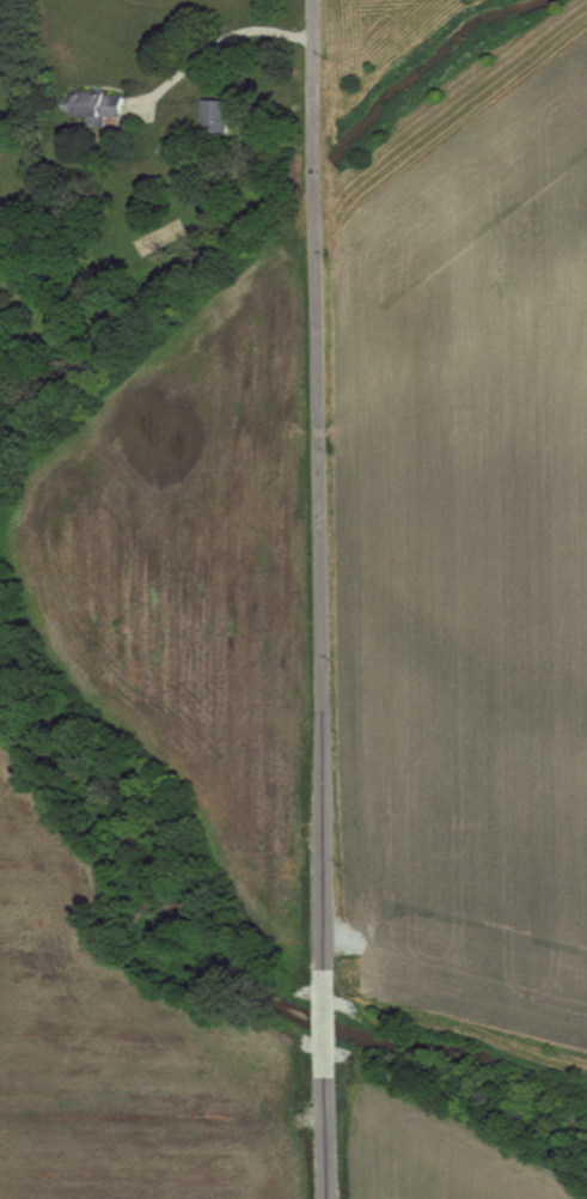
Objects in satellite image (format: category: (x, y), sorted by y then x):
road: (222, 37)
building: (96, 104)
building: (215, 114)
road: (318, 498)
road: (324, 1021)
road: (325, 1121)

